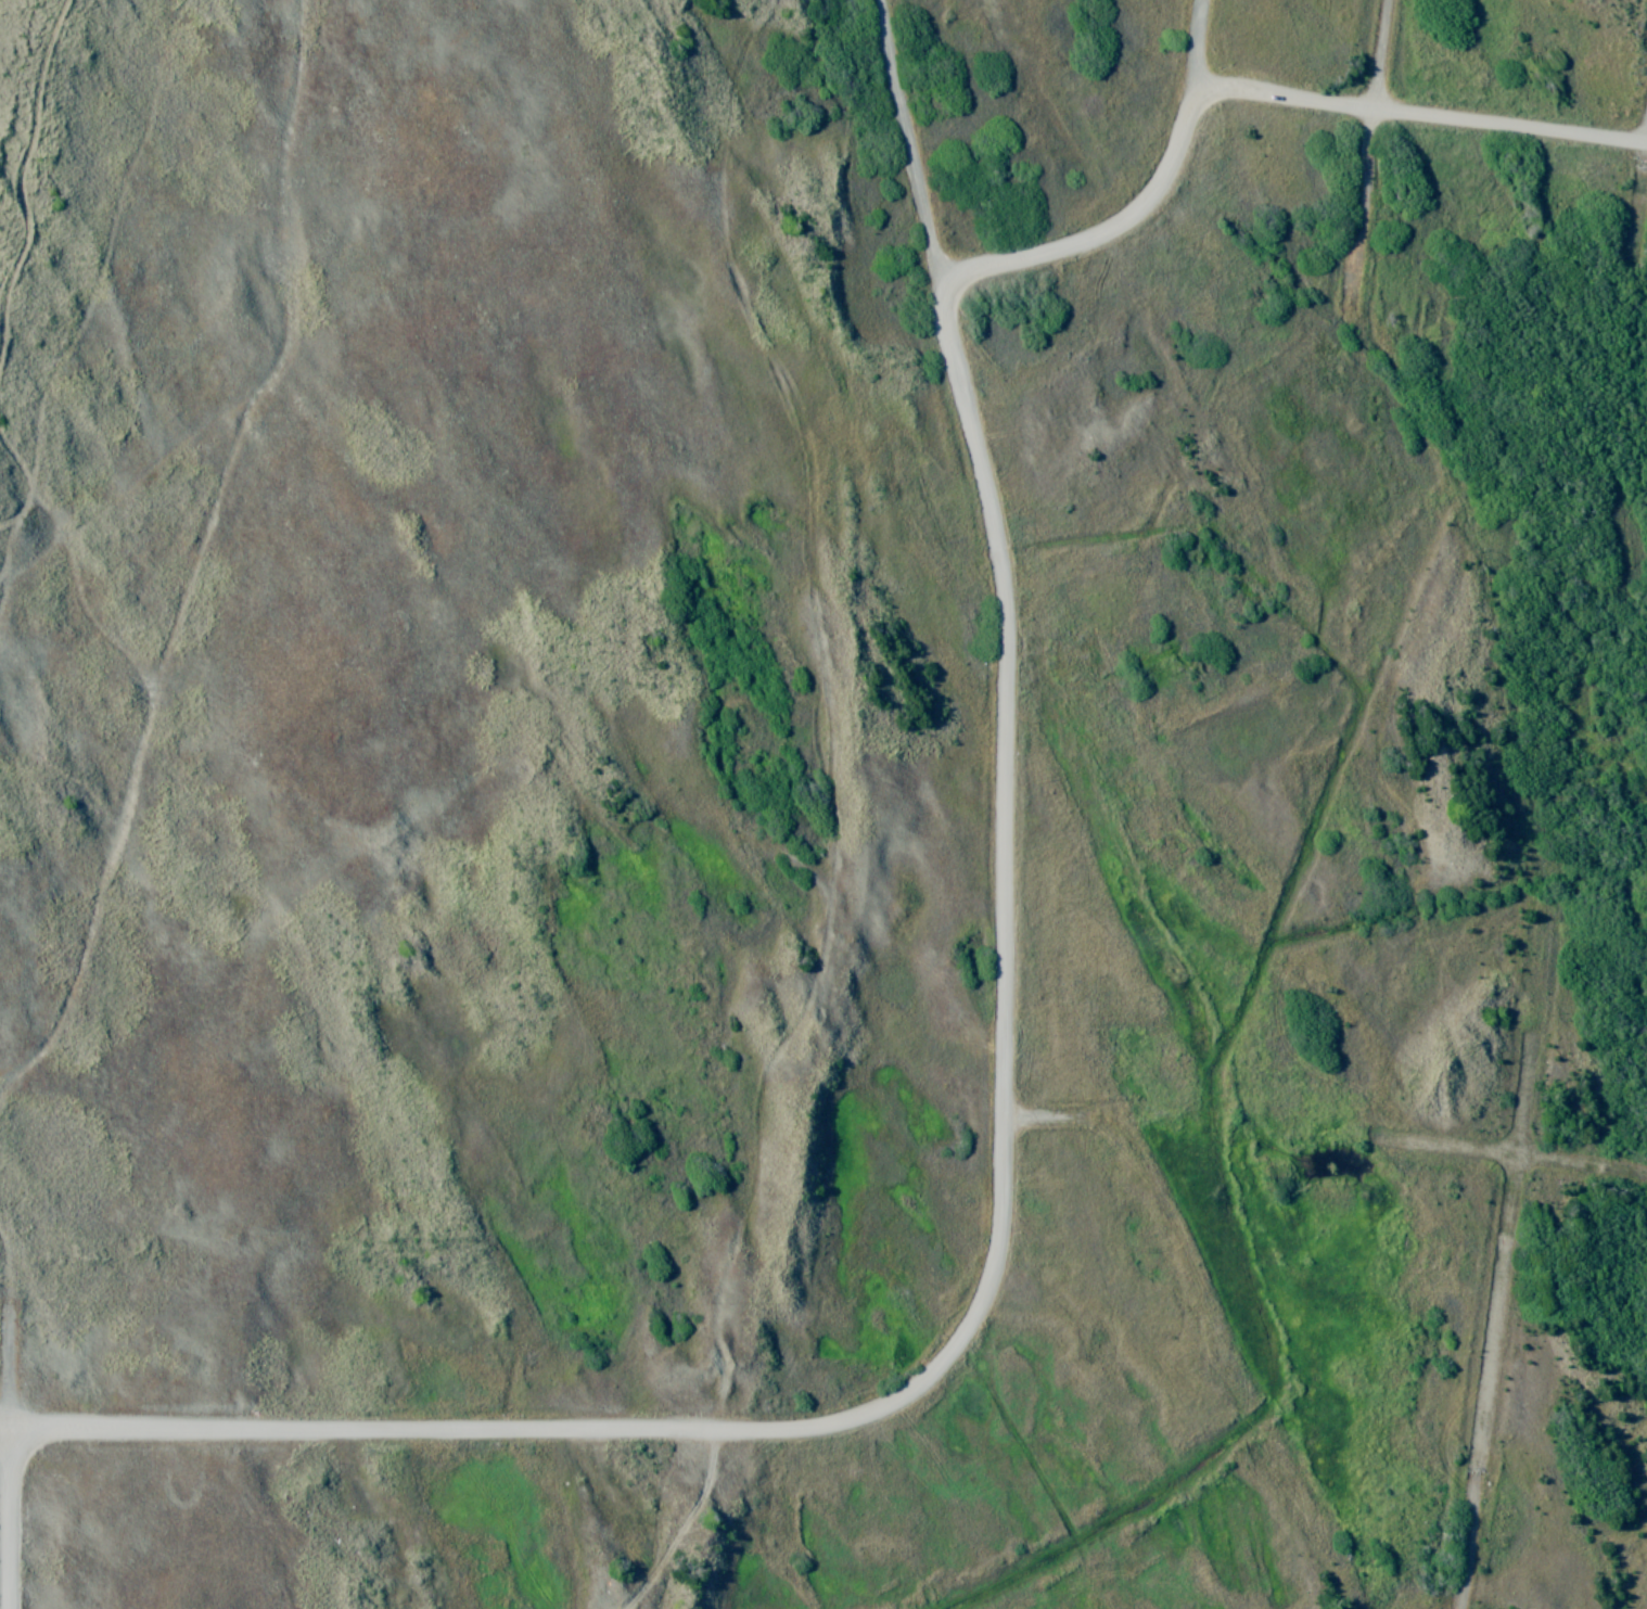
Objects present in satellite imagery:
road: (1199, 43)
road: (1384, 56)
road: (1420, 117)
road: (1366, 205)
road: (1639, 213)
road: (1109, 231)
road: (1524, 1109)
road: (1047, 1119)
road: (1003, 1153)
road: (1453, 1155)
road: (1580, 1165)
road: (1488, 1389)
road: (18, 1432)
road: (10, 1525)

